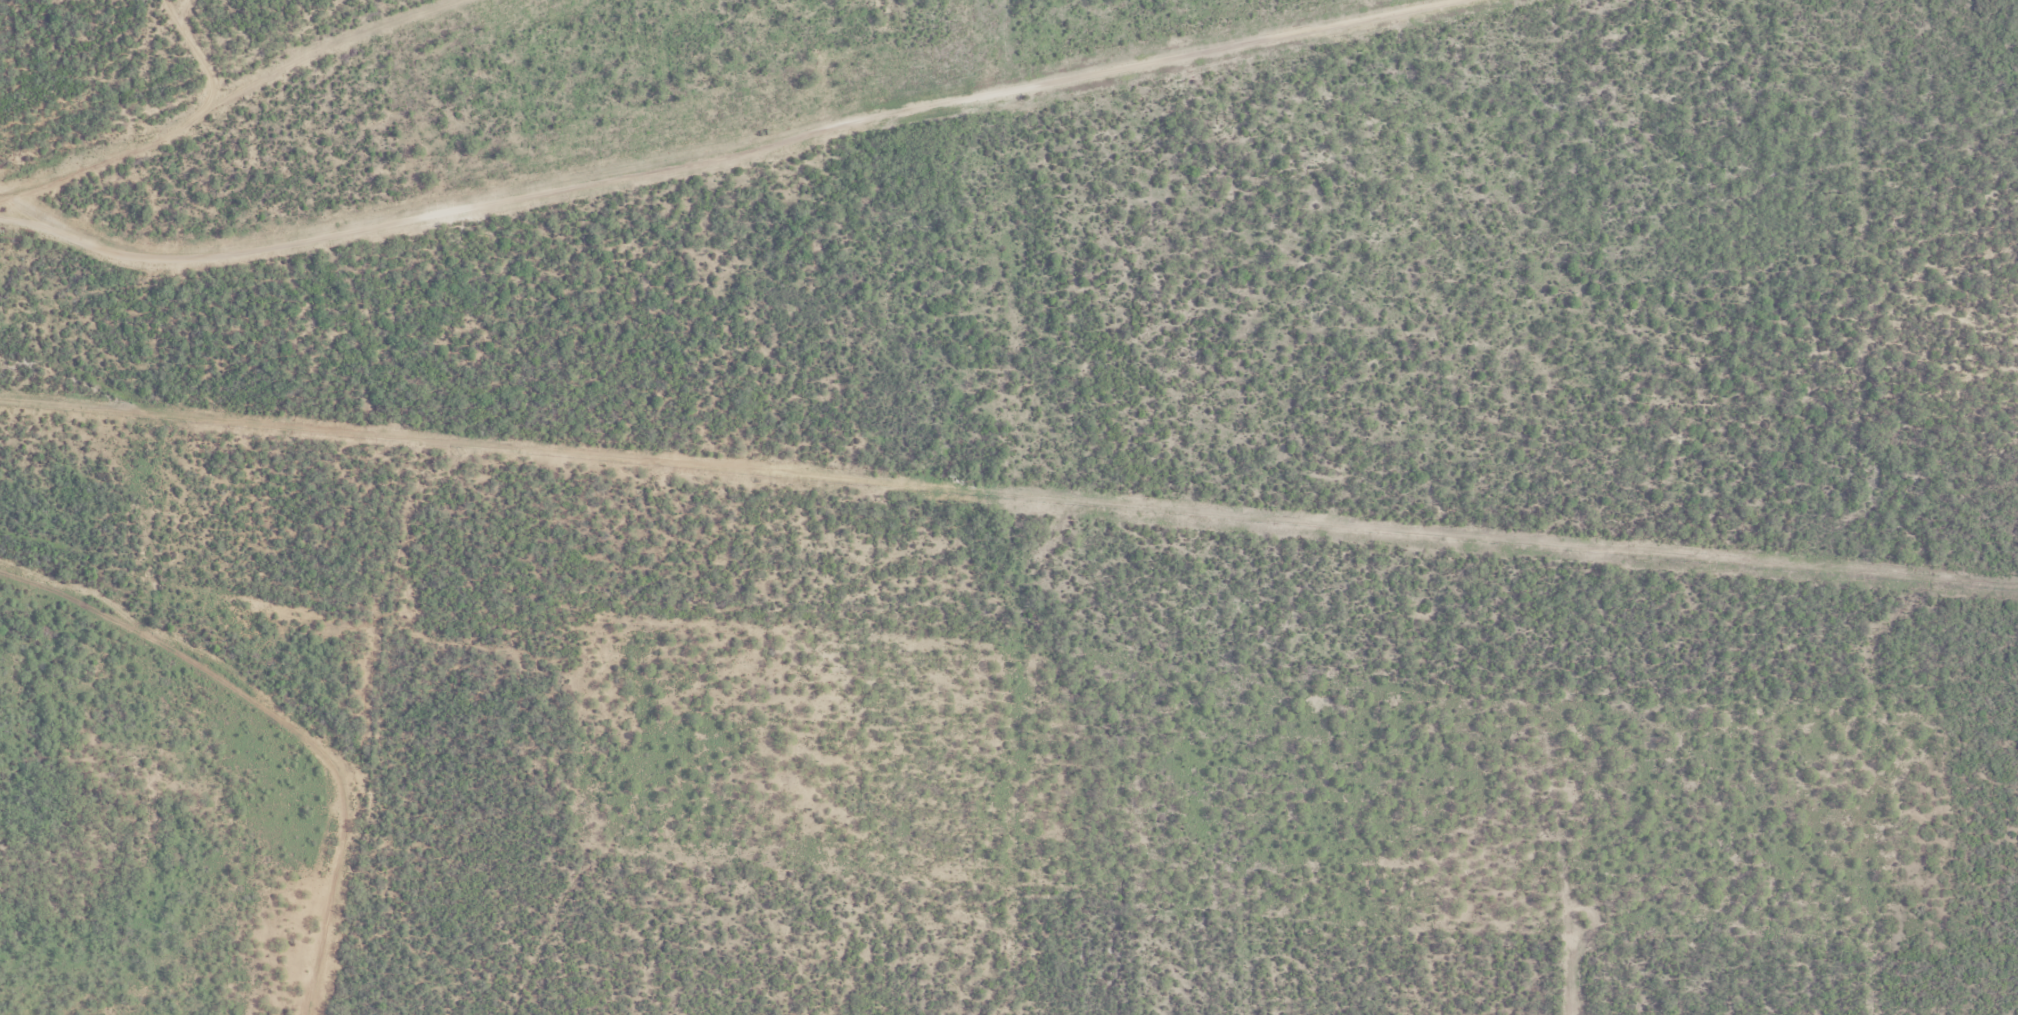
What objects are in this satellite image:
road: (226, 98)
road: (722, 152)

